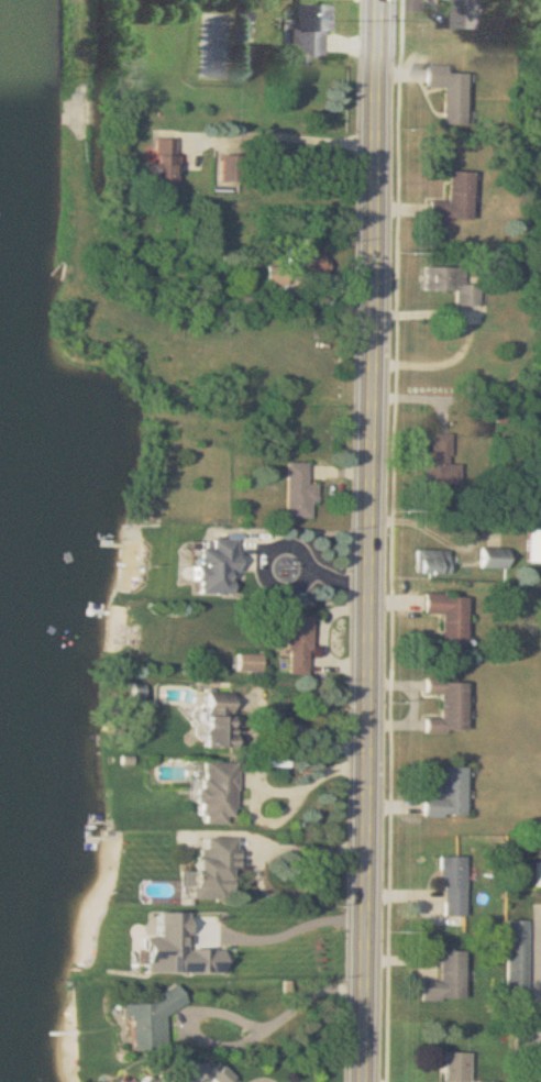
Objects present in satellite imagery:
building: (454, 14)
building: (305, 31)
building: (445, 91)
road: (283, 137)
building: (163, 162)
building: (227, 166)
building: (451, 200)
building: (305, 261)
building: (270, 274)
building: (448, 283)
building: (438, 464)
building: (296, 492)
road: (368, 541)
building: (531, 544)
building: (429, 561)
building: (213, 564)
road: (276, 584)
building: (448, 615)
building: (296, 643)
building: (445, 706)
building: (213, 722)
road: (257, 749)
road: (294, 792)
building: (211, 793)
building: (444, 795)
road: (258, 855)
building: (210, 866)
building: (536, 875)
building: (449, 886)
road: (298, 927)
building: (515, 970)
building: (443, 979)
road: (291, 1007)
building: (143, 1022)
building: (455, 1067)
building: (164, 1074)

